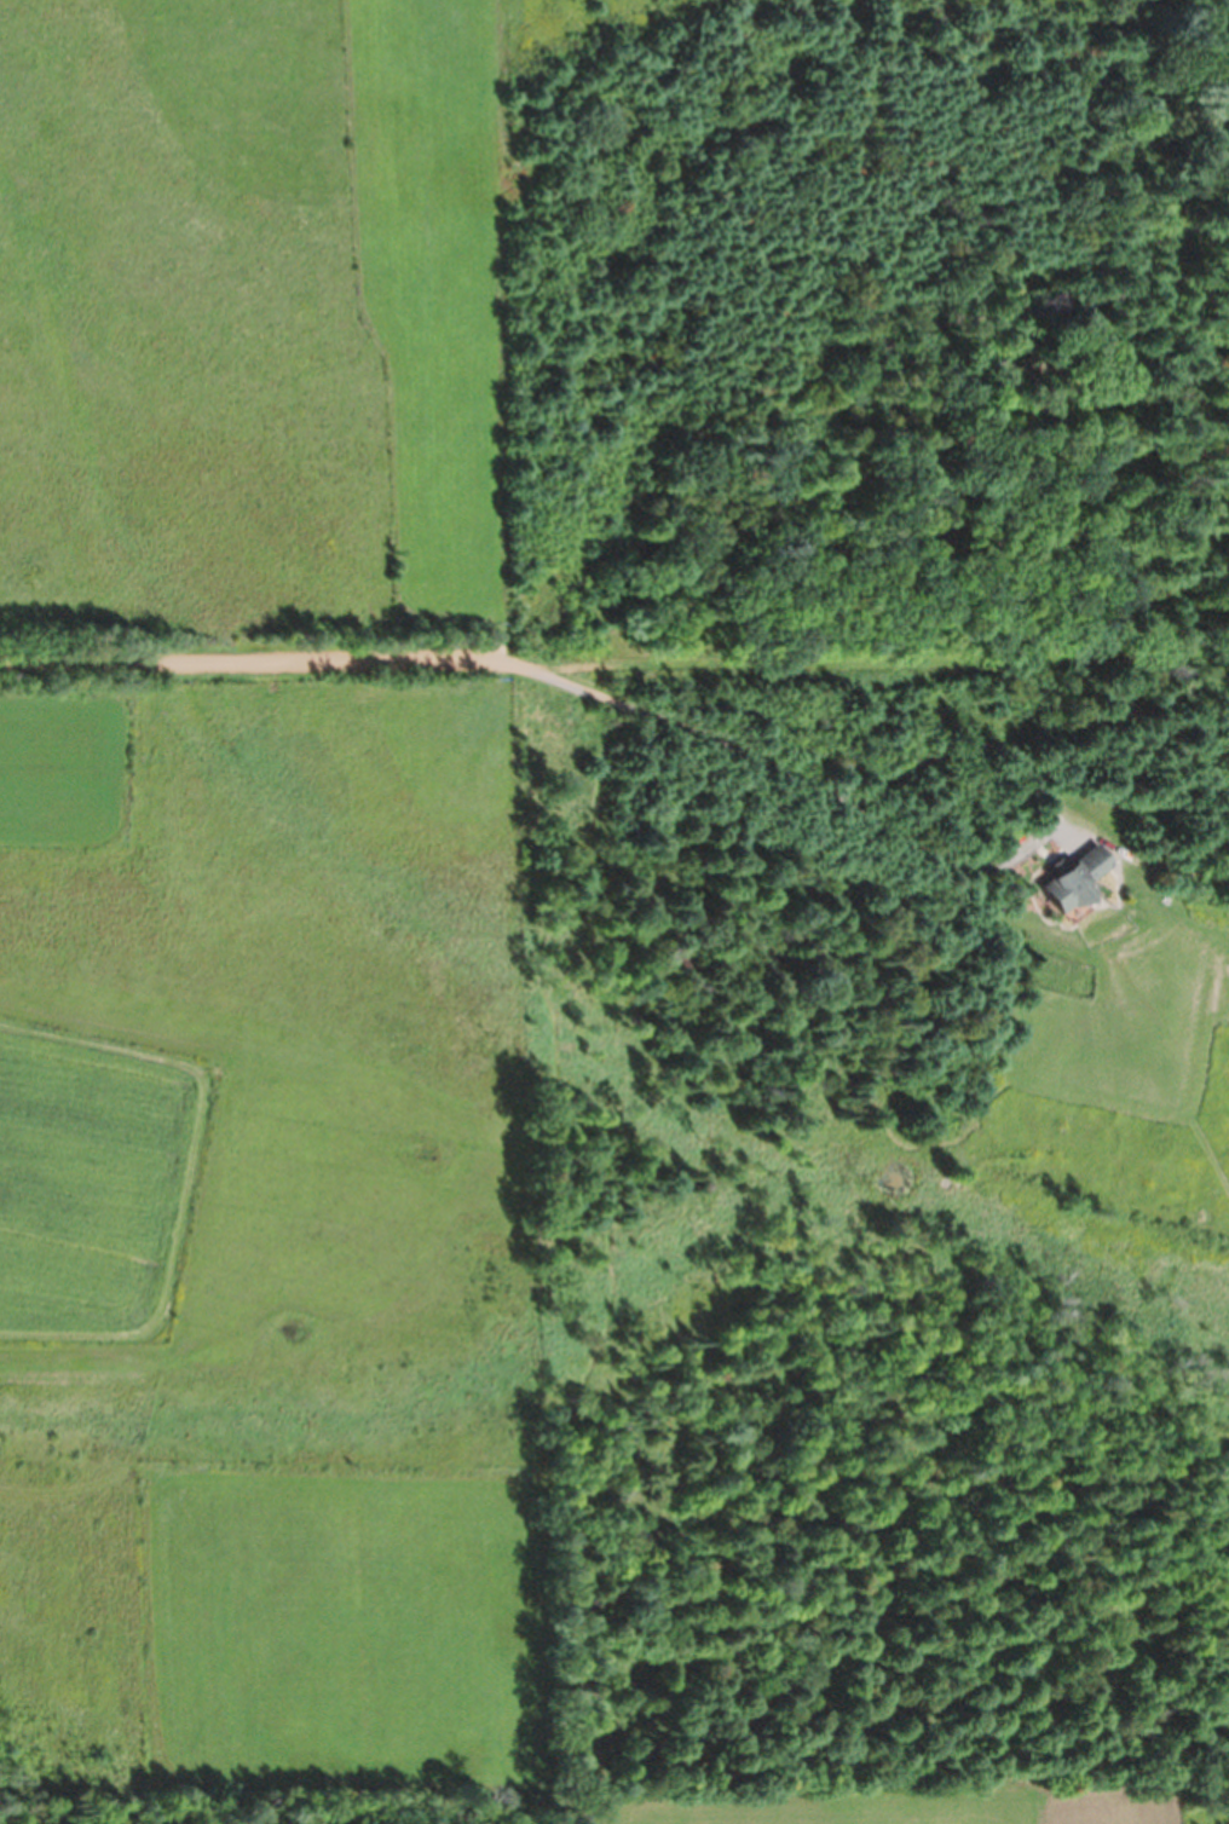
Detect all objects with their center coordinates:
road: (246, 656)
road: (892, 842)
building: (1062, 878)

